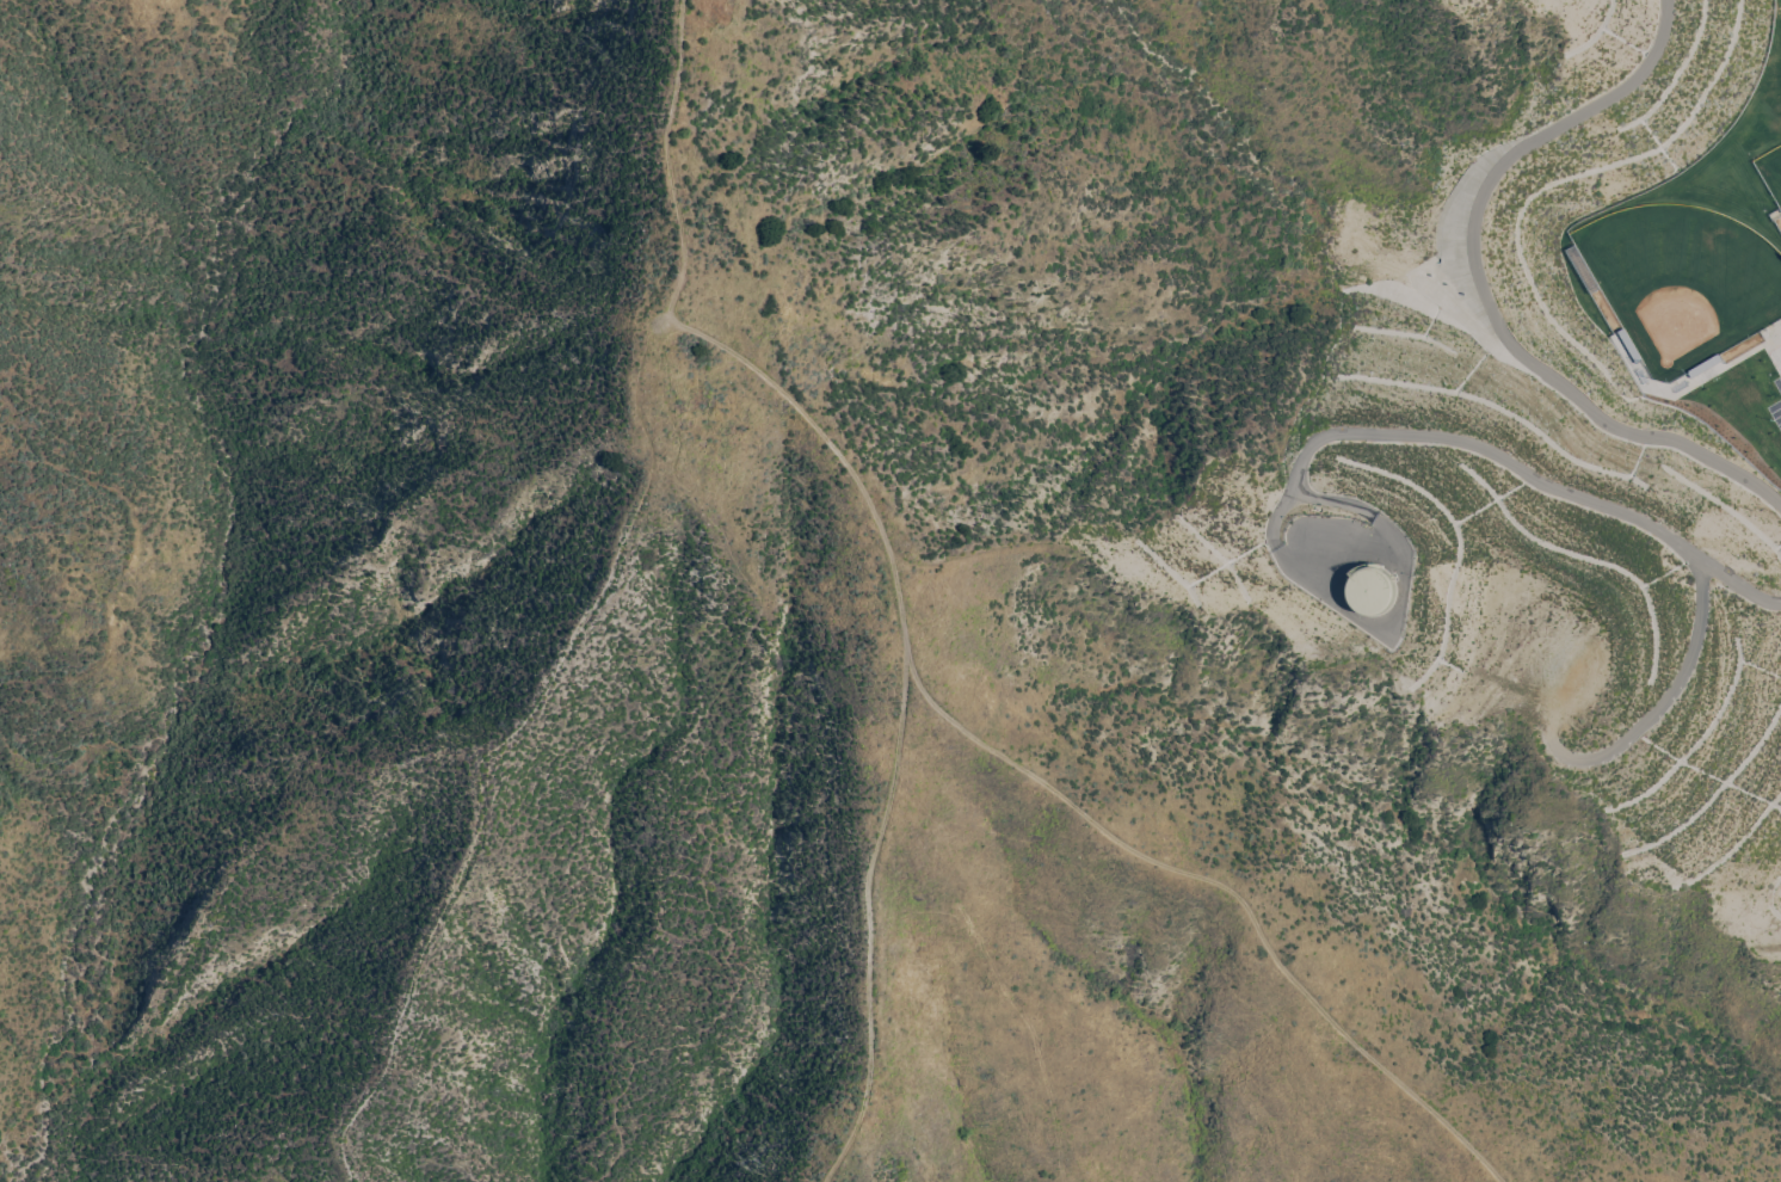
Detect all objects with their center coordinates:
park: (1771, 59)
park: (1770, 171)
park: (1681, 281)
road: (1473, 288)
road: (1765, 341)
road: (1738, 359)
road: (1516, 462)
road: (1665, 701)

